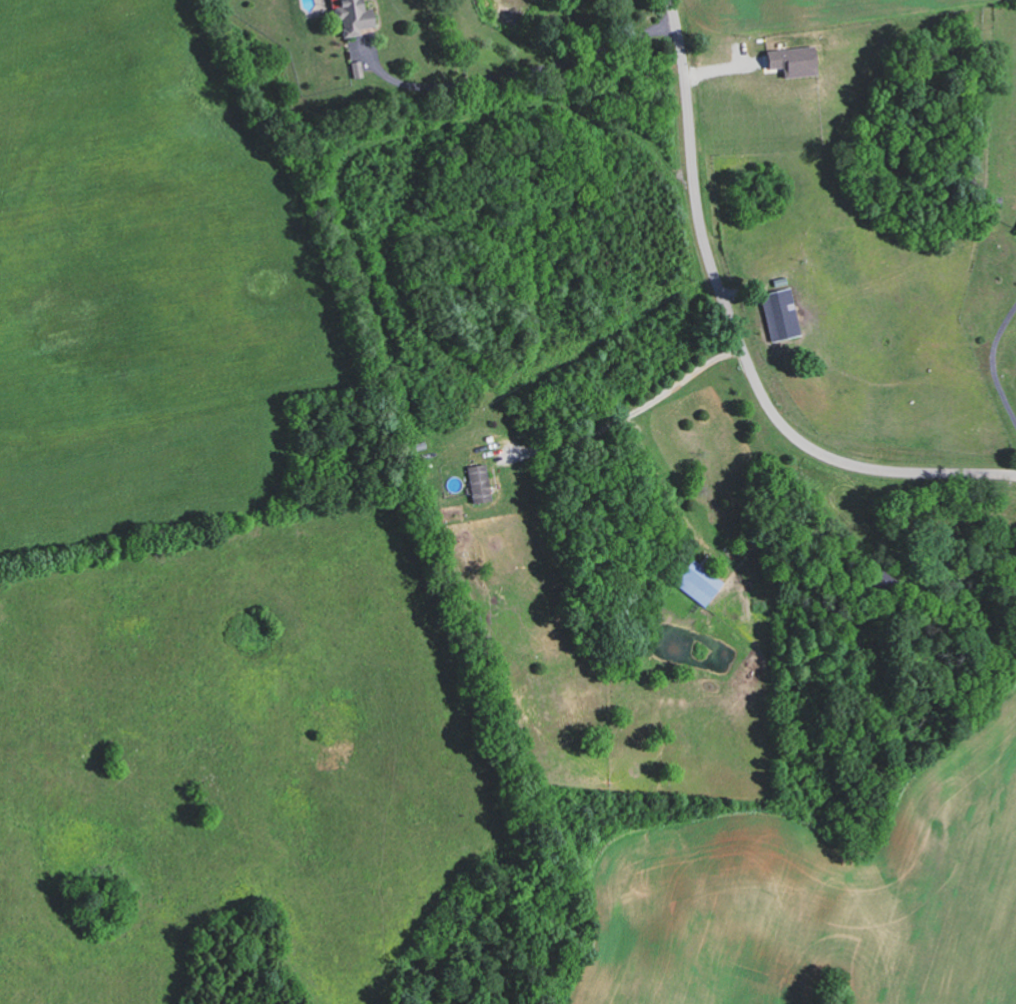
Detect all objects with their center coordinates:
building: (351, 16)
building: (792, 60)
building: (1015, 233)
building: (778, 313)
road: (737, 336)
building: (477, 483)
building: (698, 582)

